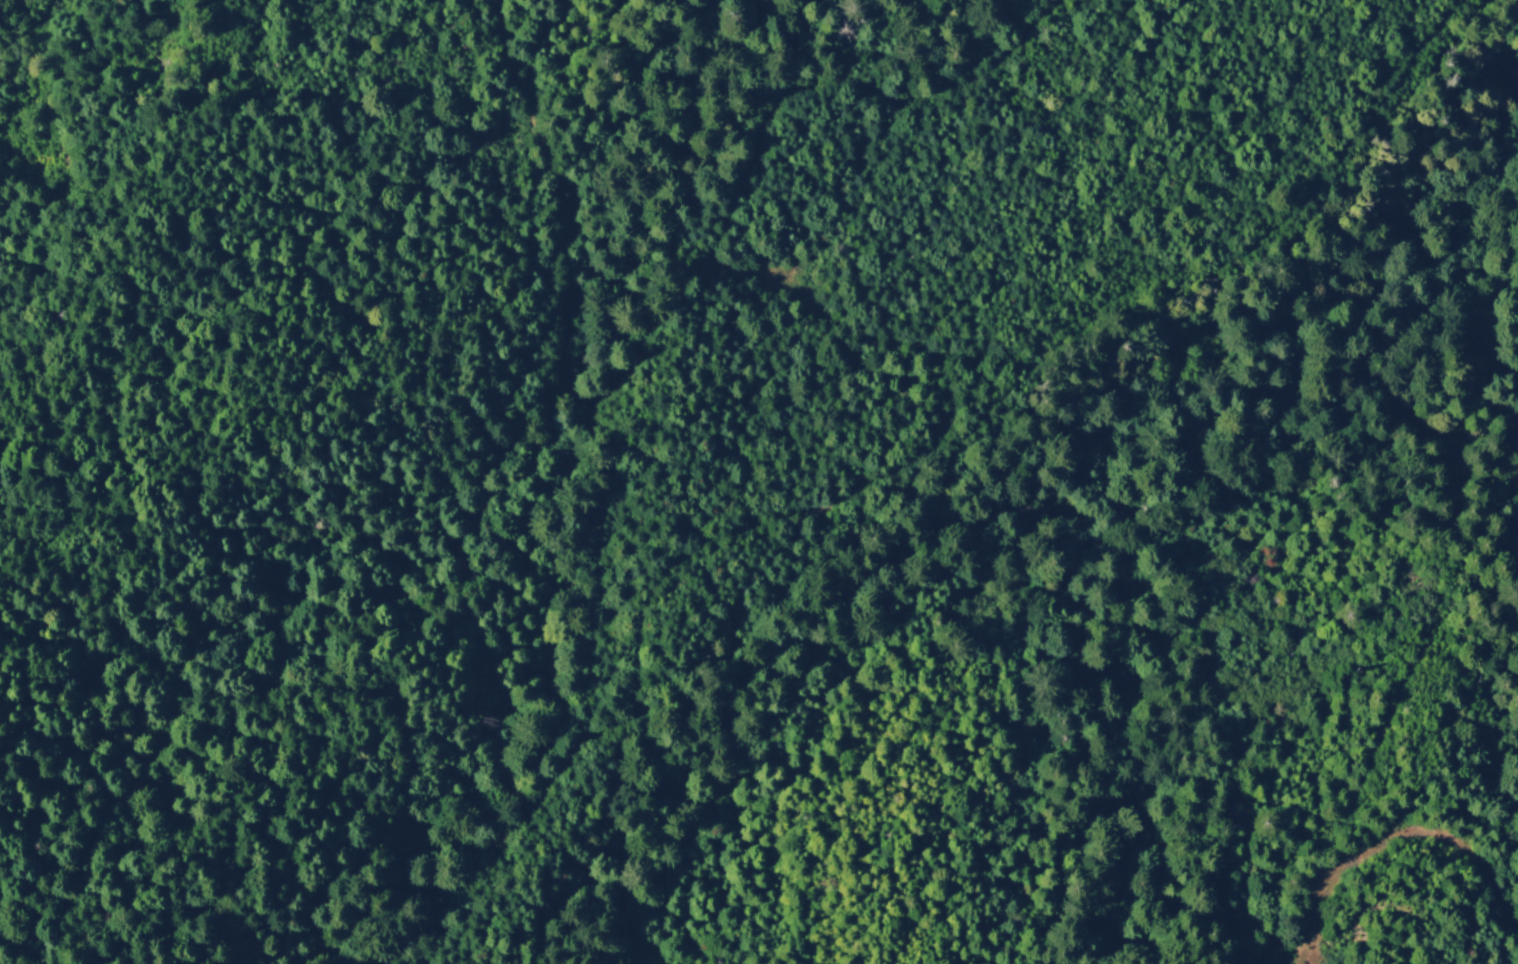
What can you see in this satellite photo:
road: (1387, 858)

